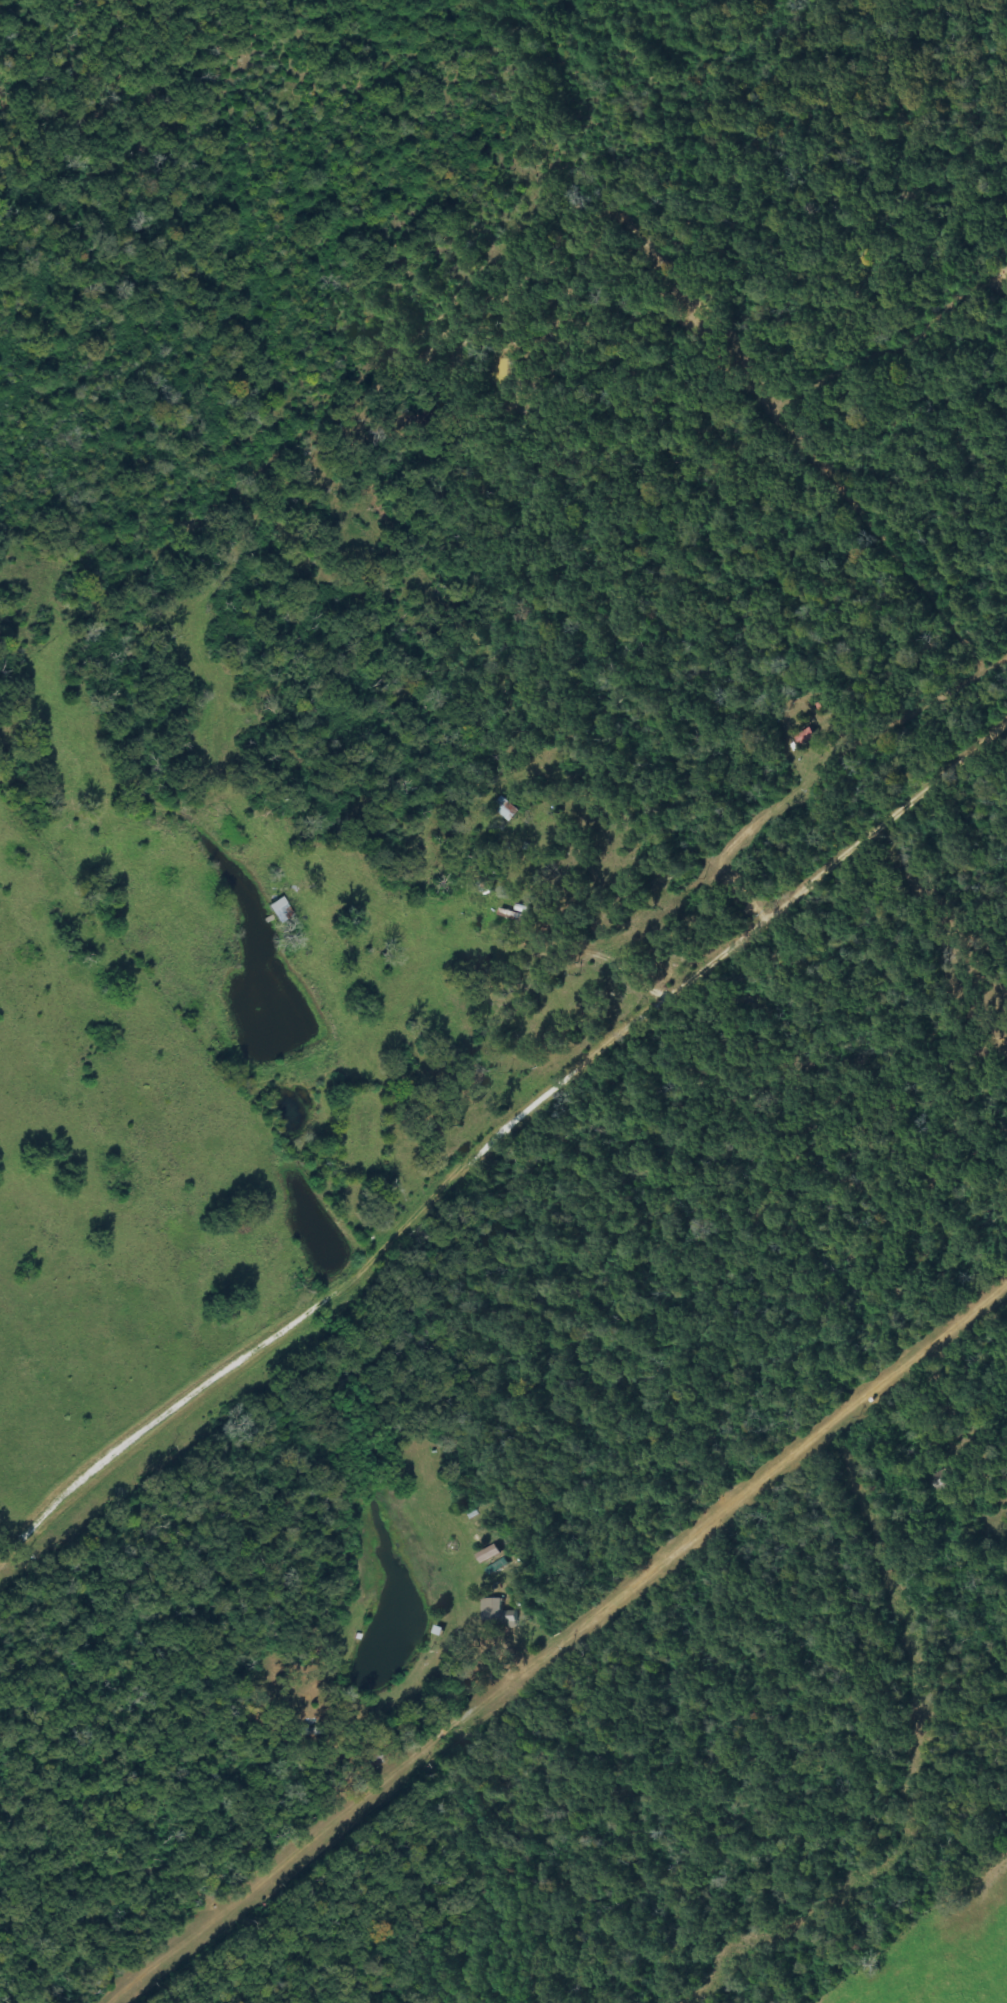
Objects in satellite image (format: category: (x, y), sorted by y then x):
building: (806, 737)
building: (507, 808)
road: (858, 1094)

